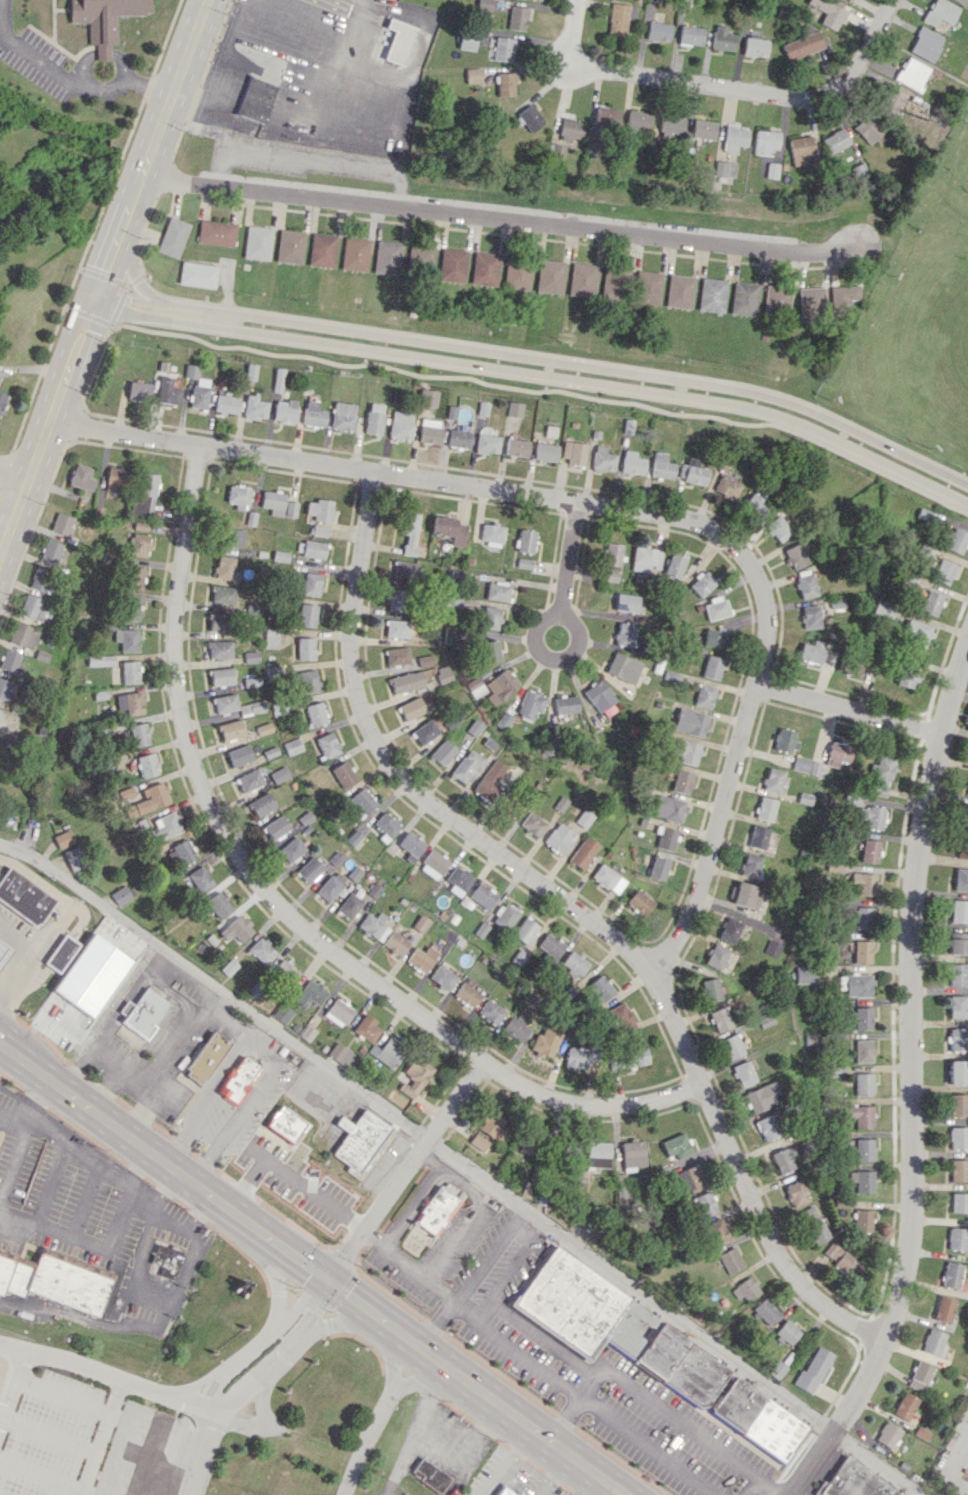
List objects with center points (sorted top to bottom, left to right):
building: (540, 0)
building: (655, 0)
building: (959, 1)
road: (334, 4)
building: (485, 4)
road: (356, 9)
building: (827, 12)
building: (939, 12)
building: (517, 17)
building: (620, 18)
building: (103, 19)
building: (658, 31)
road: (573, 33)
building: (691, 35)
building: (482, 38)
building: (722, 38)
building: (400, 40)
building: (467, 42)
building: (925, 43)
building: (802, 45)
building: (755, 46)
road: (863, 48)
building: (503, 49)
building: (911, 73)
building: (473, 75)
road: (73, 77)
building: (505, 83)
road: (699, 84)
building: (255, 99)
building: (890, 99)
building: (606, 116)
building: (530, 117)
building: (638, 120)
building: (867, 127)
building: (571, 128)
building: (703, 129)
building: (734, 138)
building: (765, 141)
building: (835, 141)
building: (800, 151)
building: (555, 153)
road: (308, 161)
building: (784, 166)
building: (724, 168)
building: (772, 170)
road: (504, 217)
building: (216, 232)
building: (173, 236)
building: (258, 242)
building: (290, 245)
building: (323, 249)
building: (355, 253)
building: (387, 257)
building: (452, 265)
building: (484, 268)
road: (103, 274)
building: (198, 274)
building: (550, 275)
building: (516, 276)
building: (583, 279)
building: (610, 283)
building: (647, 287)
building: (680, 290)
building: (712, 294)
building: (844, 295)
building: (745, 297)
building: (776, 299)
building: (811, 303)
park: (916, 314)
road: (537, 368)
building: (249, 370)
building: (190, 371)
building: (278, 380)
building: (138, 391)
building: (166, 391)
building: (199, 392)
building: (429, 397)
building: (2, 399)
building: (225, 404)
building: (254, 407)
building: (514, 409)
building: (284, 410)
building: (312, 413)
building: (342, 416)
building: (373, 418)
building: (400, 425)
building: (429, 430)
building: (458, 438)
building: (487, 443)
building: (516, 447)
building: (545, 451)
building: (573, 452)
building: (602, 459)
building: (632, 463)
building: (661, 466)
building: (692, 471)
road: (12, 477)
building: (81, 477)
building: (114, 480)
road: (469, 487)
building: (726, 487)
building: (145, 494)
building: (238, 496)
building: (754, 500)
building: (273, 502)
building: (290, 509)
building: (319, 509)
building: (62, 524)
building: (140, 526)
building: (777, 528)
building: (319, 530)
building: (449, 530)
building: (410, 532)
building: (492, 534)
building: (233, 536)
building: (526, 540)
building: (956, 540)
building: (139, 545)
building: (310, 548)
building: (51, 551)
building: (612, 554)
building: (796, 554)
building: (280, 555)
building: (645, 558)
building: (523, 563)
building: (674, 565)
building: (225, 568)
building: (405, 571)
building: (943, 571)
building: (610, 575)
building: (135, 577)
road: (567, 577)
building: (42, 580)
building: (311, 583)
building: (702, 583)
building: (805, 586)
building: (497, 591)
building: (398, 599)
building: (453, 601)
building: (625, 602)
building: (836, 602)
building: (930, 602)
building: (32, 607)
building: (715, 607)
building: (132, 608)
building: (883, 608)
building: (307, 615)
building: (809, 616)
building: (490, 617)
building: (218, 622)
building: (397, 628)
building: (916, 632)
building: (451, 634)
building: (624, 634)
building: (23, 635)
building: (714, 637)
building: (271, 638)
building: (127, 639)
building: (305, 648)
building: (220, 649)
building: (489, 651)
building: (811, 651)
building: (397, 655)
building: (251, 656)
building: (100, 660)
building: (425, 660)
building: (11, 661)
building: (855, 663)
building: (623, 667)
building: (712, 667)
building: (130, 671)
building: (443, 673)
building: (672, 675)
building: (221, 676)
building: (906, 676)
building: (308, 681)
building: (406, 681)
building: (500, 686)
building: (475, 687)
building: (6, 689)
building: (704, 695)
building: (601, 698)
building: (130, 703)
building: (225, 703)
building: (530, 704)
building: (565, 704)
building: (251, 707)
building: (411, 708)
road: (846, 709)
building: (0, 711)
building: (315, 713)
building: (690, 722)
building: (474, 727)
building: (264, 728)
building: (231, 729)
building: (425, 731)
building: (139, 734)
building: (784, 740)
building: (327, 745)
building: (293, 746)
building: (686, 751)
building: (442, 752)
building: (837, 753)
building: (239, 755)
building: (800, 763)
building: (147, 765)
building: (466, 766)
building: (279, 774)
building: (343, 774)
building: (880, 775)
building: (489, 779)
building: (772, 779)
building: (249, 780)
building: (682, 781)
building: (967, 790)
building: (126, 793)
building: (150, 799)
building: (360, 803)
building: (262, 804)
building: (669, 808)
building: (764, 808)
building: (872, 816)
building: (583, 818)
building: (532, 824)
building: (164, 826)
building: (276, 828)
road: (713, 836)
building: (757, 837)
building: (63, 838)
building: (559, 838)
building: (665, 838)
building: (410, 846)
building: (291, 849)
building: (962, 849)
building: (869, 851)
building: (583, 852)
building: (181, 853)
building: (75, 857)
building: (433, 864)
building: (750, 865)
building: (658, 867)
building: (309, 869)
building: (200, 878)
building: (608, 878)
building: (961, 879)
building: (458, 880)
building: (863, 884)
building: (330, 885)
building: (123, 894)
building: (482, 895)
building: (744, 895)
building: (24, 897)
building: (639, 901)
building: (218, 904)
building: (349, 905)
road: (278, 906)
road: (577, 911)
building: (959, 911)
building: (506, 916)
building: (863, 918)
building: (419, 924)
building: (374, 925)
building: (237, 928)
building: (525, 930)
building: (728, 930)
building: (395, 942)
building: (958, 943)
building: (550, 946)
building: (772, 948)
building: (4, 950)
building: (261, 950)
road: (32, 951)
building: (862, 951)
building: (62, 953)
building: (715, 956)
building: (421, 958)
building: (574, 963)
building: (229, 967)
building: (285, 971)
building: (805, 974)
building: (957, 974)
building: (442, 977)
road: (187, 980)
building: (855, 984)
building: (600, 989)
building: (710, 989)
building: (309, 993)
road: (2, 994)
building: (466, 994)
road: (2, 999)
road: (210, 1003)
building: (958, 1006)
building: (144, 1012)
building: (338, 1012)
building: (490, 1012)
building: (282, 1013)
building: (863, 1017)
building: (622, 1018)
building: (720, 1019)
building: (765, 1020)
road: (228, 1023)
road: (106, 1024)
building: (366, 1028)
building: (514, 1029)
building: (812, 1039)
building: (957, 1039)
building: (544, 1042)
building: (731, 1046)
road: (176, 1048)
road: (265, 1048)
building: (863, 1050)
building: (387, 1051)
building: (341, 1055)
building: (577, 1056)
building: (207, 1057)
building: (633, 1057)
building: (957, 1072)
building: (743, 1073)
building: (413, 1076)
building: (238, 1079)
road: (911, 1080)
building: (864, 1083)
road: (147, 1087)
road: (103, 1091)
building: (761, 1097)
road: (203, 1101)
building: (958, 1104)
road: (28, 1112)
building: (861, 1115)
road: (234, 1124)
building: (491, 1125)
building: (767, 1127)
building: (958, 1137)
building: (360, 1142)
building: (478, 1142)
building: (675, 1146)
building: (864, 1149)
building: (597, 1154)
building: (632, 1154)
road: (88, 1157)
road: (428, 1157)
building: (783, 1159)
road: (462, 1162)
building: (959, 1170)
road: (400, 1173)
building: (689, 1178)
building: (862, 1180)
road: (143, 1191)
road: (166, 1192)
building: (796, 1193)
building: (959, 1202)
road: (411, 1204)
building: (704, 1204)
building: (436, 1210)
road: (199, 1213)
road: (175, 1215)
road: (466, 1216)
building: (863, 1220)
building: (813, 1224)
road: (51, 1231)
building: (716, 1231)
building: (957, 1238)
building: (166, 1259)
building: (730, 1260)
building: (843, 1260)
building: (951, 1274)
road: (308, 1276)
building: (56, 1280)
road: (435, 1283)
traffic signals: (322, 1287)
building: (746, 1289)
road: (150, 1290)
building: (944, 1308)
building: (765, 1311)
building: (615, 1327)
road: (493, 1329)
building: (788, 1332)
road: (279, 1334)
road: (273, 1341)
building: (933, 1342)
building: (813, 1369)
building: (777, 1370)
road: (593, 1372)
road: (108, 1375)
building: (920, 1375)
building: (904, 1405)
building: (758, 1418)
road: (375, 1422)
road: (413, 1431)
building: (887, 1434)
road: (201, 1443)
building: (148, 1455)
road: (507, 1464)
road: (949, 1468)
building: (430, 1475)
road: (552, 1475)
building: (854, 1481)
road: (586, 1485)
road: (749, 1485)
road: (768, 1485)
building: (505, 1491)

